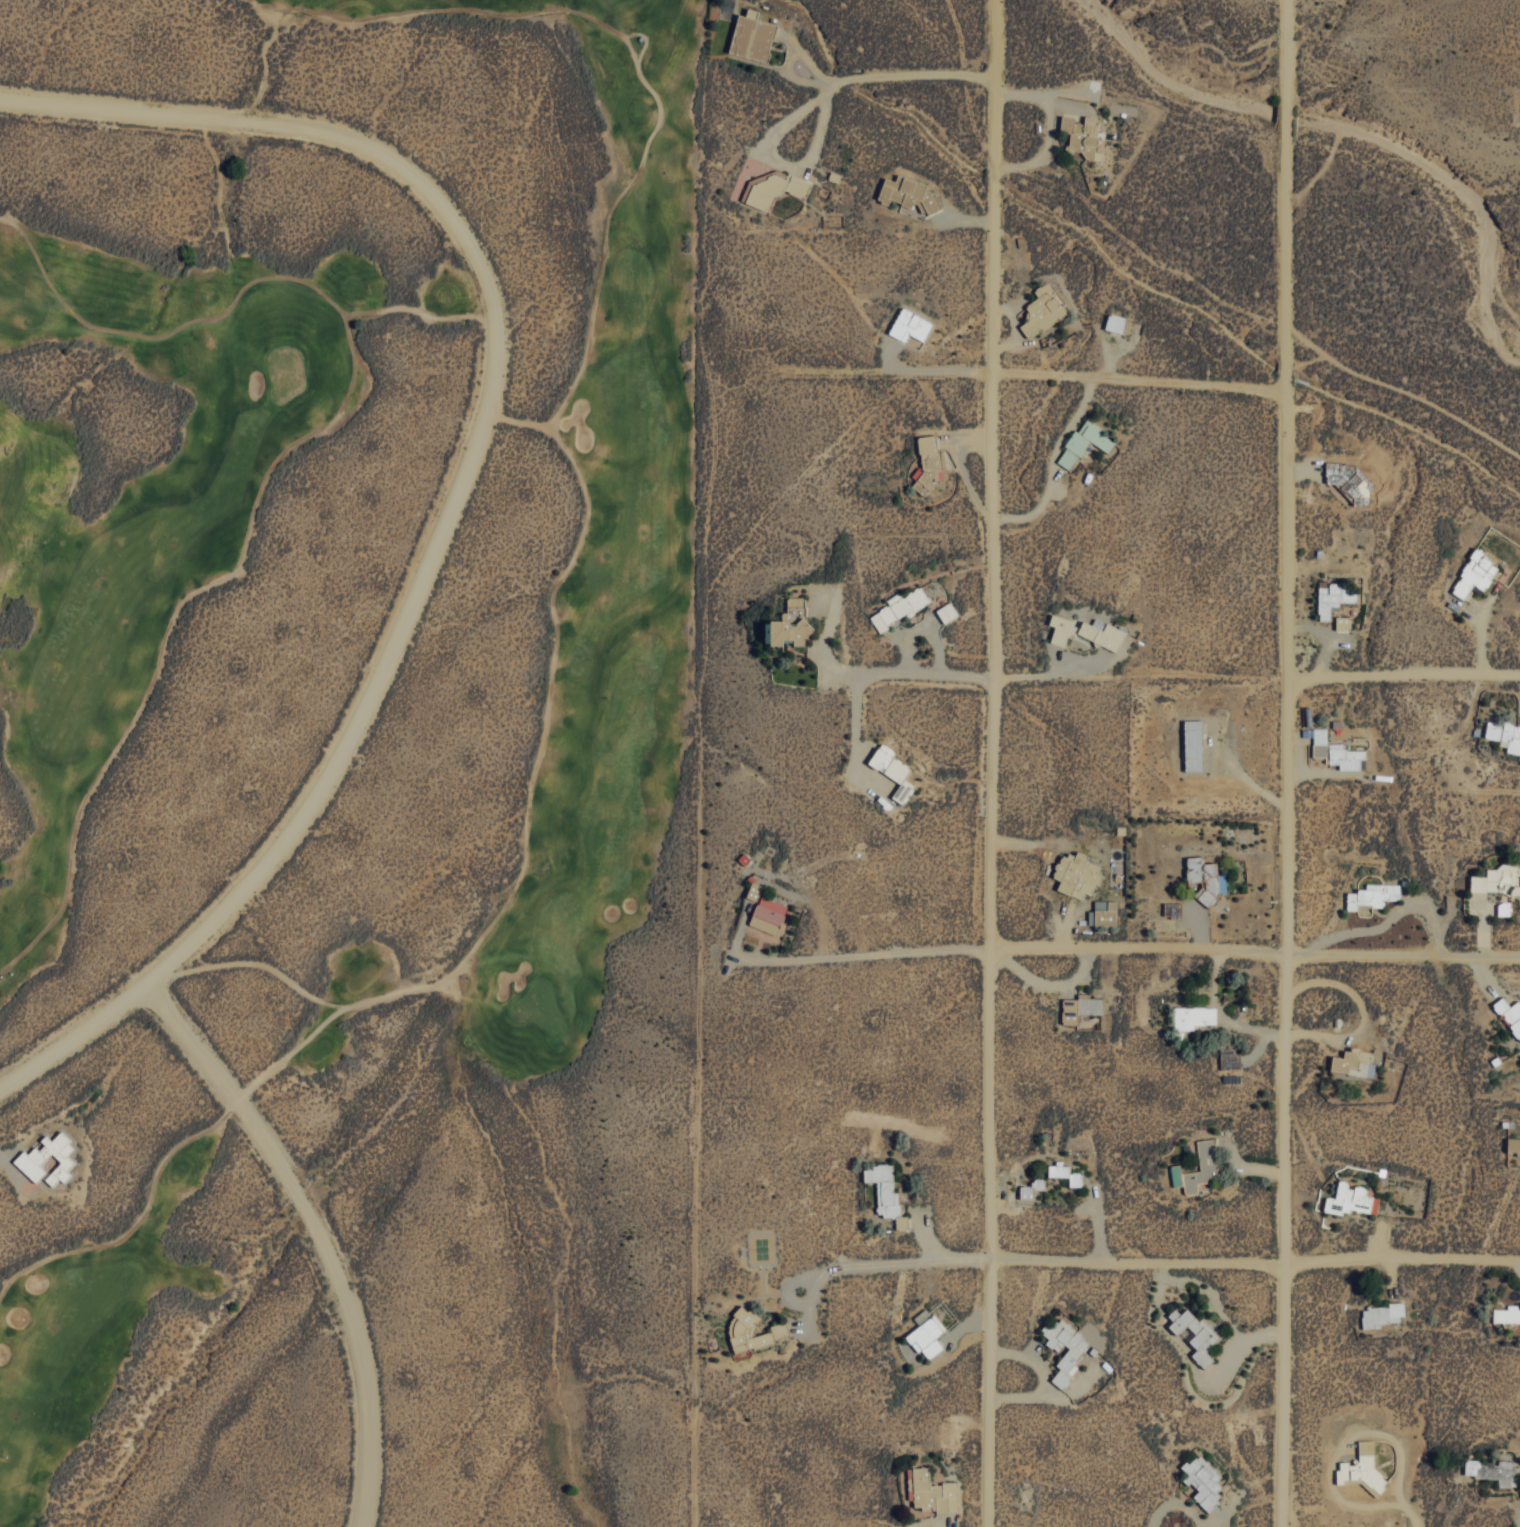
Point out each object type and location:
building: (751, 36)
building: (1079, 134)
building: (908, 193)
building: (1042, 309)
building: (1115, 322)
building: (909, 324)
road: (1141, 380)
building: (1083, 442)
building: (928, 461)
road: (461, 490)
building: (1474, 573)
building: (1333, 597)
building: (899, 607)
building: (946, 611)
building: (790, 622)
building: (1342, 622)
building: (1059, 629)
building: (1101, 634)
park: (320, 641)
road: (931, 675)
road: (1403, 681)
building: (1504, 734)
building: (1336, 751)
road: (993, 763)
road: (1286, 763)
building: (892, 770)
building: (1076, 874)
building: (1205, 877)
building: (1498, 879)
building: (1372, 895)
building: (1503, 908)
building: (1102, 912)
building: (767, 915)
road: (878, 952)
road: (1254, 954)
building: (1080, 1007)
building: (1510, 1014)
building: (1193, 1016)
building: (1229, 1058)
building: (1513, 1144)
building: (32, 1158)
building: (1207, 1167)
building: (1064, 1173)
building: (1031, 1187)
building: (885, 1192)
building: (1350, 1199)
road: (316, 1235)
road: (1255, 1259)
building: (1382, 1314)
building: (1507, 1314)
building: (921, 1316)
building: (751, 1330)
building: (1195, 1334)
building: (927, 1336)
building: (1078, 1350)
building: (1362, 1466)
building: (1493, 1471)
building: (1203, 1480)
building: (930, 1491)

